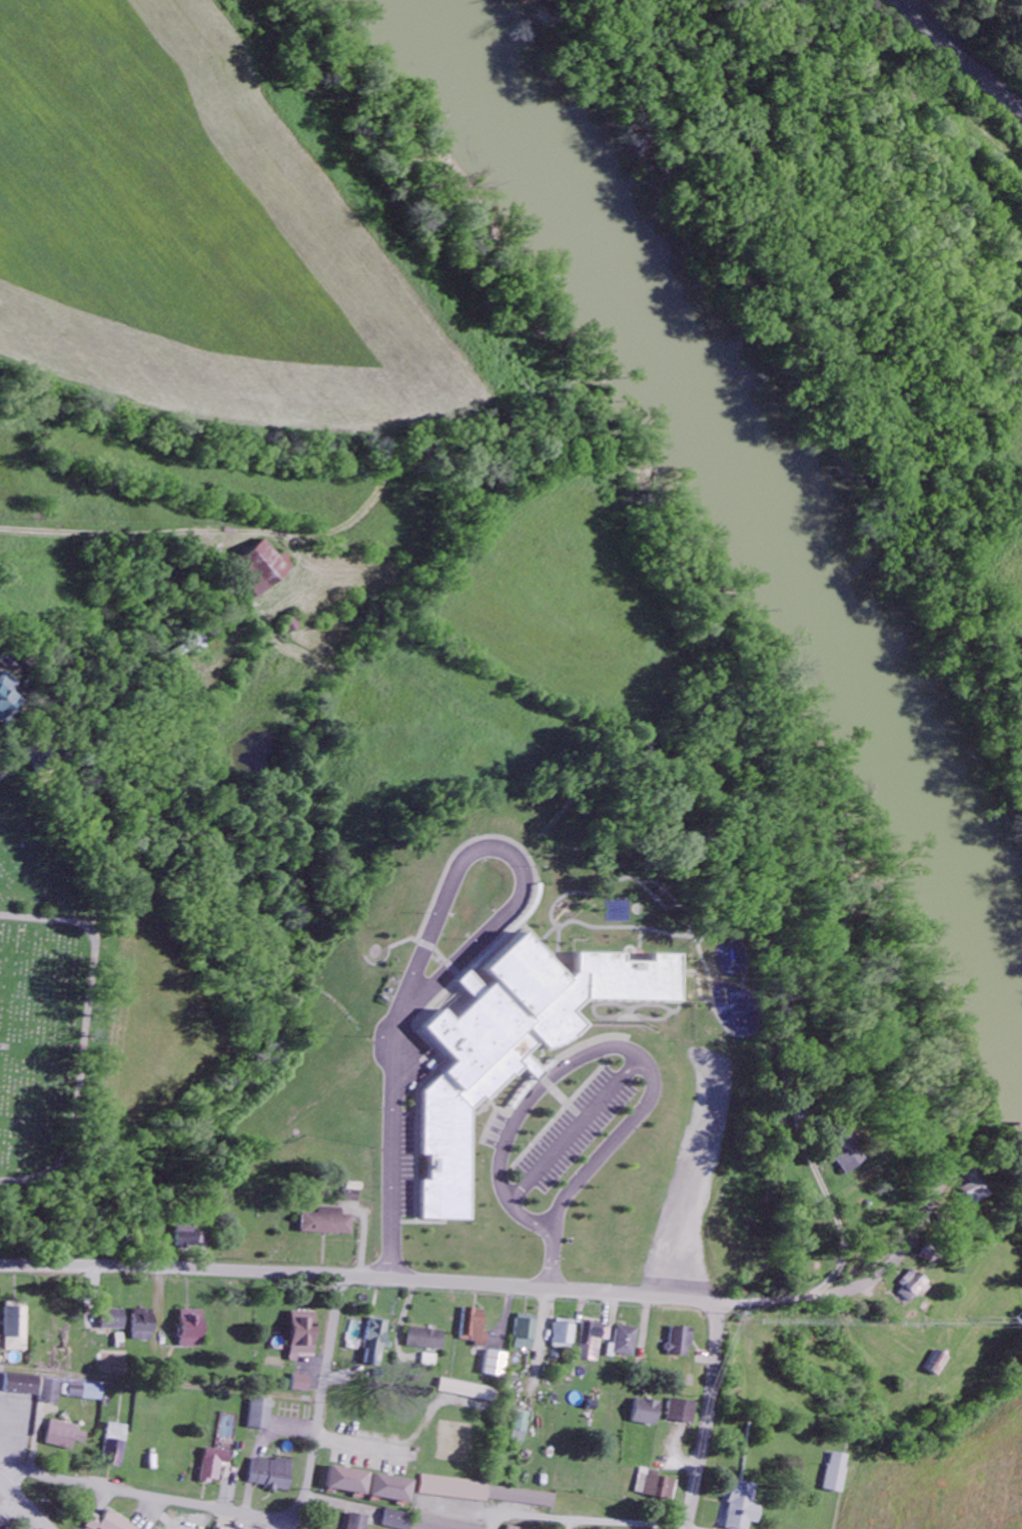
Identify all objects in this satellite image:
railway: (956, 55)
river: (772, 490)
road: (110, 491)
building: (267, 568)
building: (9, 699)
road: (425, 937)
park: (41, 970)
road: (83, 1033)
road: (645, 1067)
road: (554, 1149)
building: (974, 1189)
road: (827, 1207)
building: (330, 1223)
building: (193, 1237)
road: (858, 1277)
road: (360, 1280)
building: (911, 1289)
building: (117, 1321)
building: (146, 1327)
building: (18, 1329)
building: (475, 1329)
building: (195, 1330)
building: (526, 1335)
building: (565, 1336)
building: (305, 1337)
building: (427, 1340)
building: (595, 1342)
building: (628, 1342)
building: (377, 1343)
building: (682, 1343)
building: (937, 1364)
building: (496, 1365)
building: (302, 1385)
building: (23, 1386)
building: (469, 1391)
building: (50, 1392)
building: (87, 1393)
building: (683, 1413)
building: (648, 1414)
building: (261, 1416)
road: (708, 1417)
building: (521, 1428)
building: (64, 1436)
building: (115, 1447)
building: (214, 1466)
building: (837, 1474)
building: (271, 1475)
building: (350, 1482)
building: (656, 1486)
building: (394, 1489)
building: (489, 1494)
road: (337, 1500)
road: (21, 1505)
building: (743, 1508)
road: (264, 1516)
road: (582, 1518)
building: (398, 1521)
building: (358, 1522)
building: (106, 1523)
building: (438, 1524)
building: (512, 1528)

